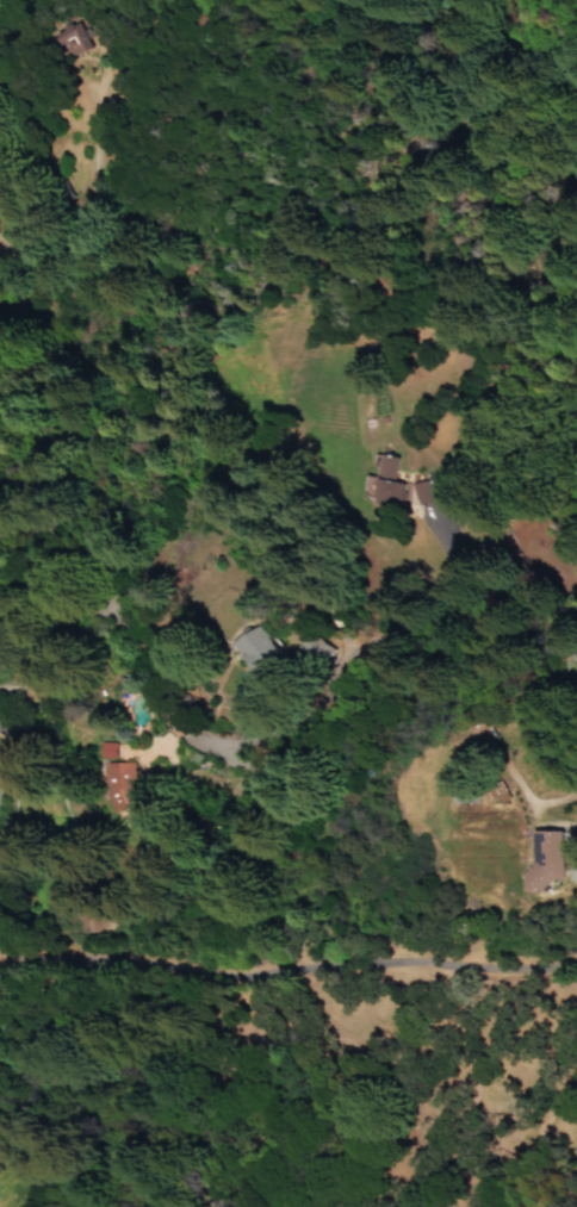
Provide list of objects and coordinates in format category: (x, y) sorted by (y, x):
building: (67, 41)
building: (391, 480)
building: (424, 491)
crop: (287, 519)
building: (256, 651)
road: (293, 685)
road: (2, 733)
building: (107, 748)
building: (459, 769)
building: (120, 785)
building: (495, 790)
building: (544, 860)
road: (286, 968)
road: (330, 994)

